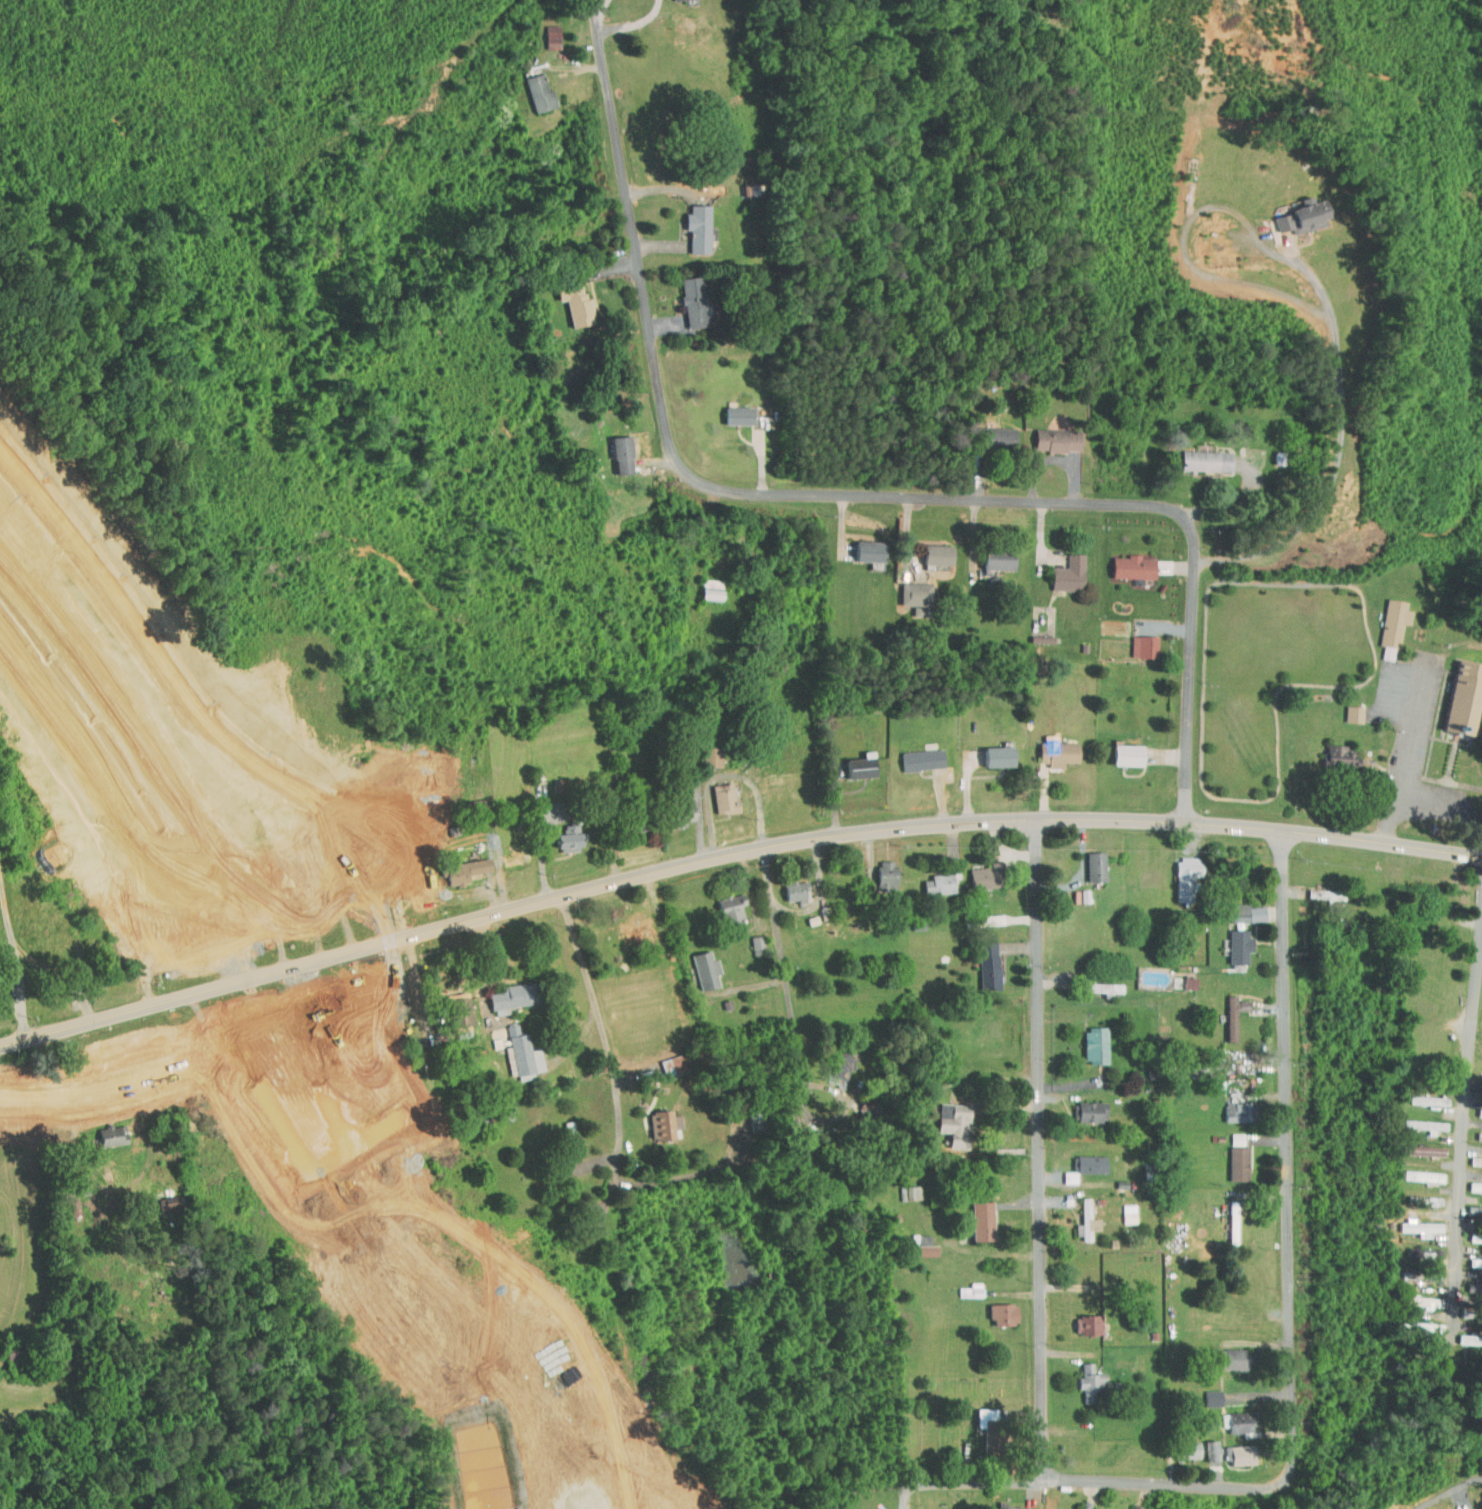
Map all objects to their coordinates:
road: (600, 14)
road: (593, 15)
road: (634, 23)
building: (543, 31)
building: (530, 87)
building: (1294, 210)
building: (688, 222)
building: (565, 295)
building: (684, 296)
road: (1318, 297)
building: (728, 409)
building: (985, 431)
building: (1047, 434)
building: (612, 448)
building: (1197, 454)
road: (862, 495)
building: (859, 545)
building: (928, 548)
building: (989, 553)
building: (1124, 561)
building: (1060, 568)
building: (702, 584)
building: (908, 591)
building: (1383, 621)
building: (1135, 640)
building: (1455, 691)
building: (1344, 708)
road: (218, 727)
building: (1049, 747)
building: (1117, 749)
building: (989, 750)
building: (1332, 750)
building: (913, 753)
road: (1407, 757)
building: (851, 761)
building: (715, 792)
road: (1449, 804)
building: (671, 807)
road: (903, 827)
building: (559, 832)
building: (505, 850)
building: (1086, 860)
building: (456, 864)
building: (876, 868)
building: (977, 871)
building: (1177, 871)
building: (930, 878)
building: (400, 879)
building: (787, 886)
building: (721, 901)
building: (1230, 907)
building: (623, 923)
building: (747, 938)
building: (1230, 940)
building: (979, 960)
building: (696, 964)
road: (784, 968)
building: (502, 992)
building: (1224, 1009)
building: (451, 1011)
road: (283, 1026)
road: (607, 1039)
building: (1086, 1039)
building: (369, 1052)
building: (828, 1059)
building: (664, 1060)
building: (226, 1074)
road: (110, 1085)
building: (1419, 1094)
building: (935, 1105)
building: (1079, 1106)
building: (1228, 1106)
building: (1475, 1107)
building: (185, 1114)
building: (651, 1120)
building: (947, 1120)
building: (1417, 1120)
building: (103, 1130)
building: (1475, 1130)
road: (1462, 1131)
building: (1227, 1133)
building: (234, 1136)
building: (1414, 1145)
road: (1040, 1148)
road: (1288, 1155)
building: (1471, 1155)
building: (1082, 1158)
building: (1229, 1158)
building: (1414, 1170)
building: (1060, 1171)
road: (688, 1175)
building: (1471, 1181)
building: (901, 1187)
building: (1421, 1195)
building: (160, 1197)
building: (1120, 1208)
building: (1469, 1208)
building: (972, 1215)
building: (1079, 1215)
building: (1224, 1216)
building: (1412, 1222)
building: (1471, 1231)
building: (917, 1245)
building: (1468, 1282)
building: (962, 1285)
building: (1414, 1296)
building: (994, 1309)
building: (1077, 1319)
building: (1465, 1334)
building: (1224, 1353)
building: (1082, 1379)
building: (1203, 1392)
building: (1230, 1416)
building: (1181, 1444)
building: (1202, 1445)
building: (1233, 1449)
road: (966, 1483)
road: (1167, 1483)
building: (1002, 1504)

